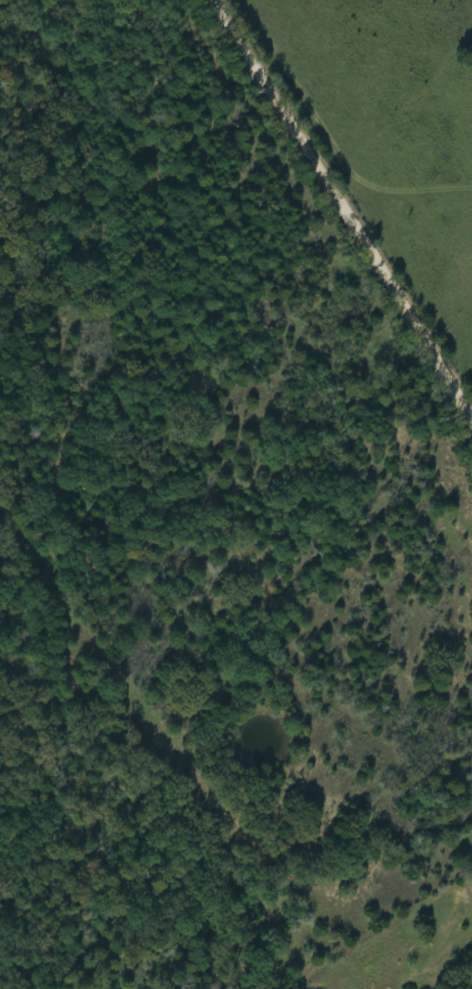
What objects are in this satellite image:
road: (347, 204)

